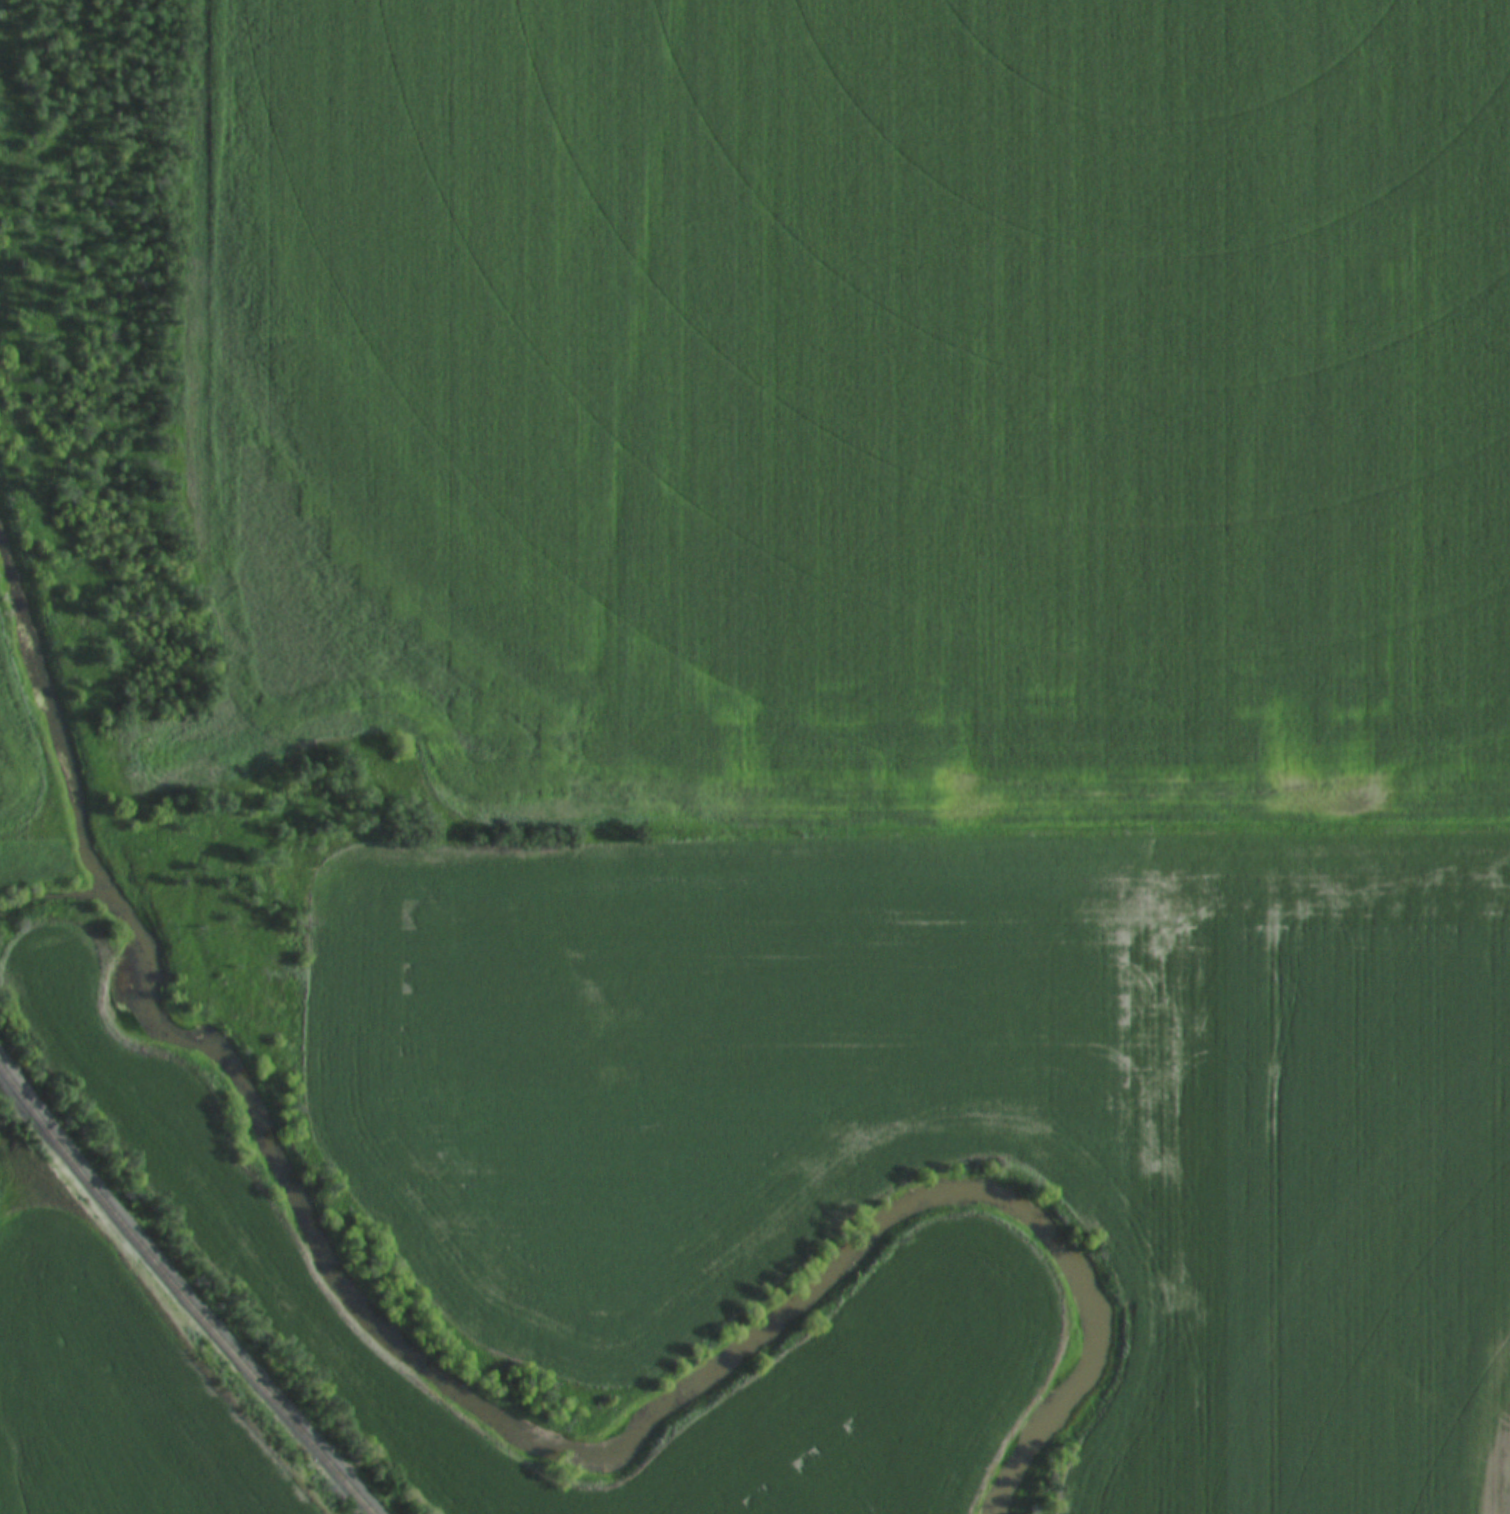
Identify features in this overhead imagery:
railway: (185, 1291)

